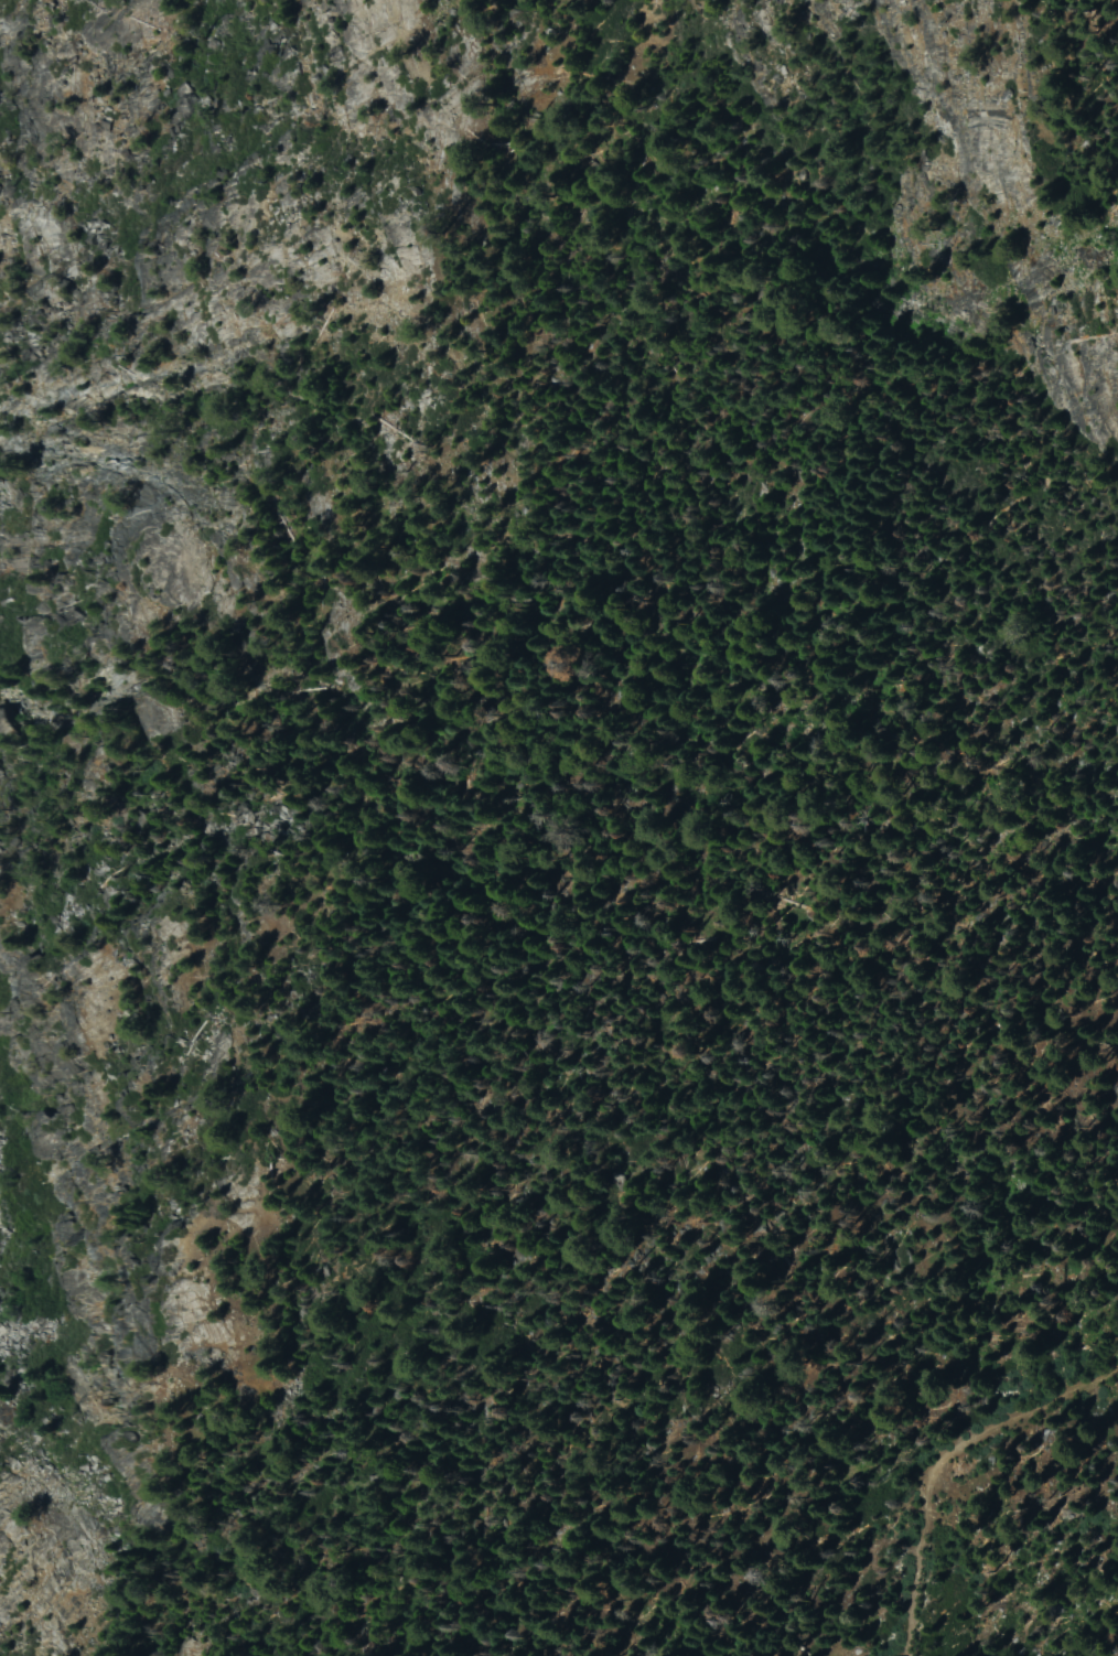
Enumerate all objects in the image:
road: (947, 1466)

